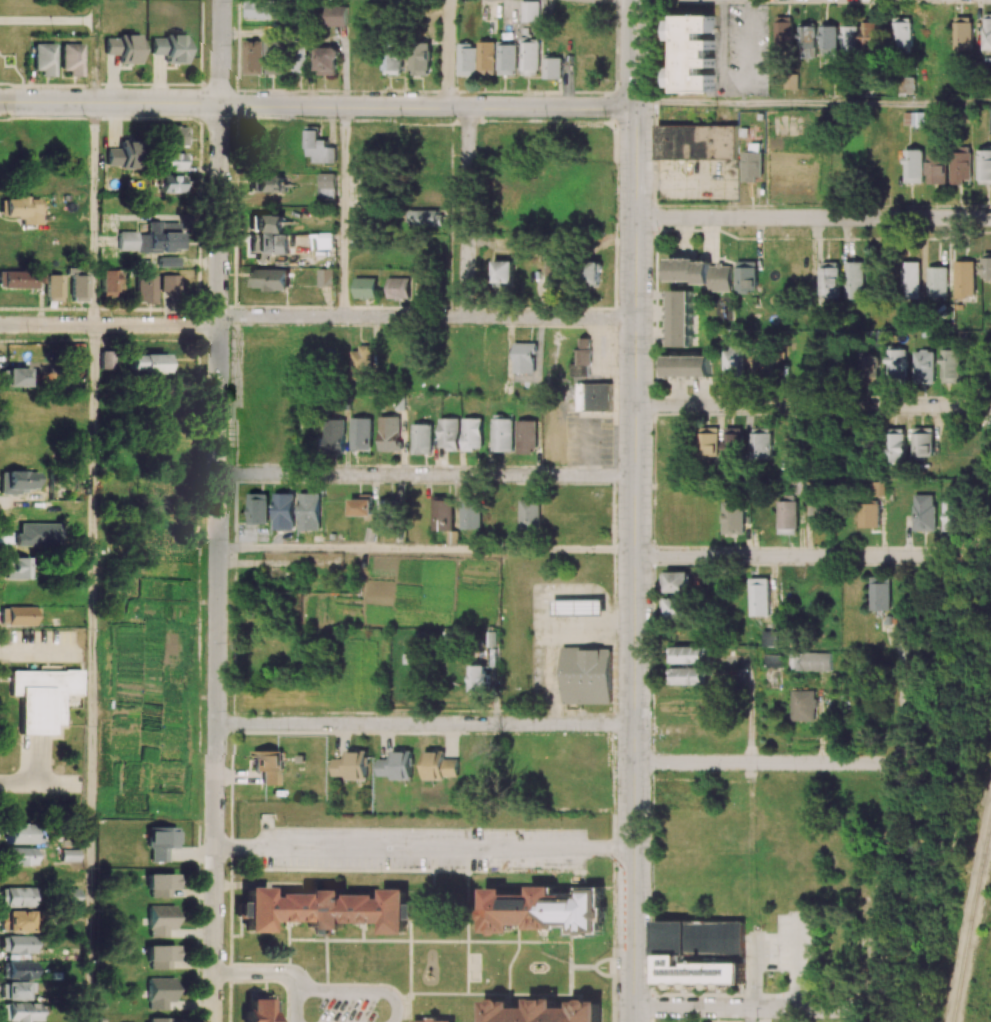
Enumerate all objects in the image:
building: (260, 9)
road: (94, 10)
building: (530, 11)
building: (335, 15)
road: (47, 20)
building: (987, 31)
building: (783, 33)
building: (902, 33)
building: (963, 33)
building: (870, 36)
building: (850, 39)
building: (807, 41)
building: (829, 41)
street lamp: (232, 44)
building: (123, 48)
building: (169, 49)
road: (220, 52)
road: (365, 53)
road: (447, 53)
building: (692, 53)
building: (254, 57)
building: (273, 57)
building: (486, 57)
building: (392, 58)
building: (420, 58)
building: (529, 58)
building: (44, 59)
building: (72, 59)
building: (300, 59)
building: (506, 59)
building: (327, 60)
building: (466, 60)
building: (552, 68)
building: (907, 85)
street lamp: (142, 86)
street lamp: (351, 93)
road: (812, 102)
road: (316, 105)
traffic signals: (634, 106)
street lamp: (5, 117)
street lamp: (235, 117)
street lamp: (606, 118)
building: (990, 118)
building: (914, 119)
building: (173, 136)
building: (697, 142)
building: (318, 148)
building: (121, 156)
building: (172, 161)
building: (752, 165)
building: (913, 166)
building: (961, 166)
building: (984, 166)
building: (936, 168)
building: (172, 184)
building: (266, 184)
building: (326, 187)
street lamp: (718, 206)
building: (23, 209)
road: (343, 211)
road: (467, 211)
road: (94, 214)
road: (813, 217)
building: (430, 218)
building: (266, 223)
street lamp: (612, 232)
building: (153, 239)
building: (268, 243)
building: (168, 262)
building: (986, 265)
building: (503, 273)
building: (593, 273)
building: (700, 273)
building: (746, 276)
building: (326, 277)
building: (22, 278)
building: (964, 278)
building: (270, 279)
street lamp: (653, 279)
building: (829, 279)
building: (854, 279)
building: (910, 280)
building: (937, 282)
building: (109, 283)
building: (170, 283)
building: (77, 287)
building: (365, 287)
building: (53, 288)
building: (398, 288)
building: (145, 289)
street lamp: (320, 307)
street lamp: (164, 315)
road: (427, 316)
building: (679, 318)
road: (109, 325)
street lamp: (230, 328)
street lamp: (30, 334)
building: (524, 358)
building: (581, 359)
building: (105, 360)
building: (761, 362)
building: (147, 363)
building: (361, 363)
street lamp: (615, 364)
building: (734, 364)
building: (896, 364)
building: (868, 365)
building: (950, 365)
building: (687, 366)
building: (923, 366)
building: (14, 376)
street lamp: (229, 396)
building: (593, 396)
road: (812, 406)
street lamp: (724, 416)
building: (361, 433)
building: (389, 433)
building: (448, 433)
building: (472, 433)
street lamp: (652, 433)
building: (334, 435)
building: (502, 435)
building: (526, 436)
building: (422, 438)
building: (708, 442)
building: (922, 443)
building: (732, 445)
building: (896, 445)
building: (761, 446)
street lamp: (229, 459)
street lamp: (377, 465)
street lamp: (295, 467)
street lamp: (558, 467)
road: (425, 474)
building: (18, 481)
street lamp: (462, 485)
building: (810, 489)
street lamp: (616, 502)
building: (361, 507)
building: (258, 508)
road: (634, 510)
building: (283, 511)
building: (309, 511)
building: (924, 512)
building: (530, 513)
building: (387, 514)
building: (442, 514)
building: (470, 514)
building: (787, 515)
building: (869, 515)
building: (953, 516)
building: (733, 517)
building: (817, 517)
street lamp: (230, 538)
street lamp: (721, 546)
road: (424, 547)
street lamp: (592, 555)
road: (792, 555)
road: (215, 562)
street lamp: (886, 566)
building: (16, 568)
street lamp: (651, 570)
building: (675, 582)
building: (879, 593)
building: (759, 596)
building: (578, 607)
building: (675, 608)
building: (18, 616)
street lamp: (87, 632)
road: (552, 632)
street lamp: (528, 634)
street lamp: (615, 638)
building: (769, 638)
street lamp: (226, 641)
road: (39, 652)
building: (686, 654)
building: (772, 660)
building: (809, 661)
road: (91, 673)
building: (586, 675)
building: (686, 675)
road: (730, 676)
building: (479, 678)
road: (902, 692)
building: (42, 696)
road: (750, 702)
building: (802, 705)
street lamp: (650, 706)
street lamp: (226, 709)
street lamp: (385, 714)
street lamp: (470, 715)
road: (821, 717)
road: (356, 722)
road: (565, 723)
street lamp: (285, 729)
street lamp: (579, 732)
street lamp: (10, 742)
street lamp: (833, 752)
road: (35, 758)
road: (759, 763)
building: (268, 765)
building: (350, 765)
building: (396, 765)
building: (439, 765)
street lamp: (655, 775)
road: (38, 783)
street lamp: (225, 801)
street lamp: (286, 824)
street lamp: (378, 825)
street lamp: (469, 826)
street lamp: (560, 826)
building: (20, 834)
building: (160, 842)
road: (422, 847)
building: (69, 855)
building: (20, 856)
street lamp: (651, 856)
street lamp: (286, 872)
street lamp: (380, 873)
street lamp: (561, 874)
street lamp: (226, 875)
street lamp: (471, 875)
building: (160, 884)
road: (256, 885)
road: (879, 886)
building: (67, 896)
building: (18, 897)
building: (326, 909)
building: (542, 910)
railway: (970, 910)
building: (160, 920)
building: (17, 921)
street lamp: (754, 933)
building: (16, 944)
building: (669, 951)
street lamp: (611, 952)
street lamp: (776, 953)
building: (160, 957)
street lamp: (224, 957)
road: (797, 961)
building: (16, 970)
road: (754, 970)
road: (260, 972)
street lamp: (358, 980)
road: (343, 990)
building: (14, 991)
building: (160, 993)
street lamp: (819, 993)
building: (258, 1008)
road: (744, 1008)
street lamp: (318, 1009)
street lamp: (279, 1010)
building: (545, 1011)
road: (748, 1015)
street lamp: (692, 1017)
building: (159, 1019)
building: (434, 1020)

